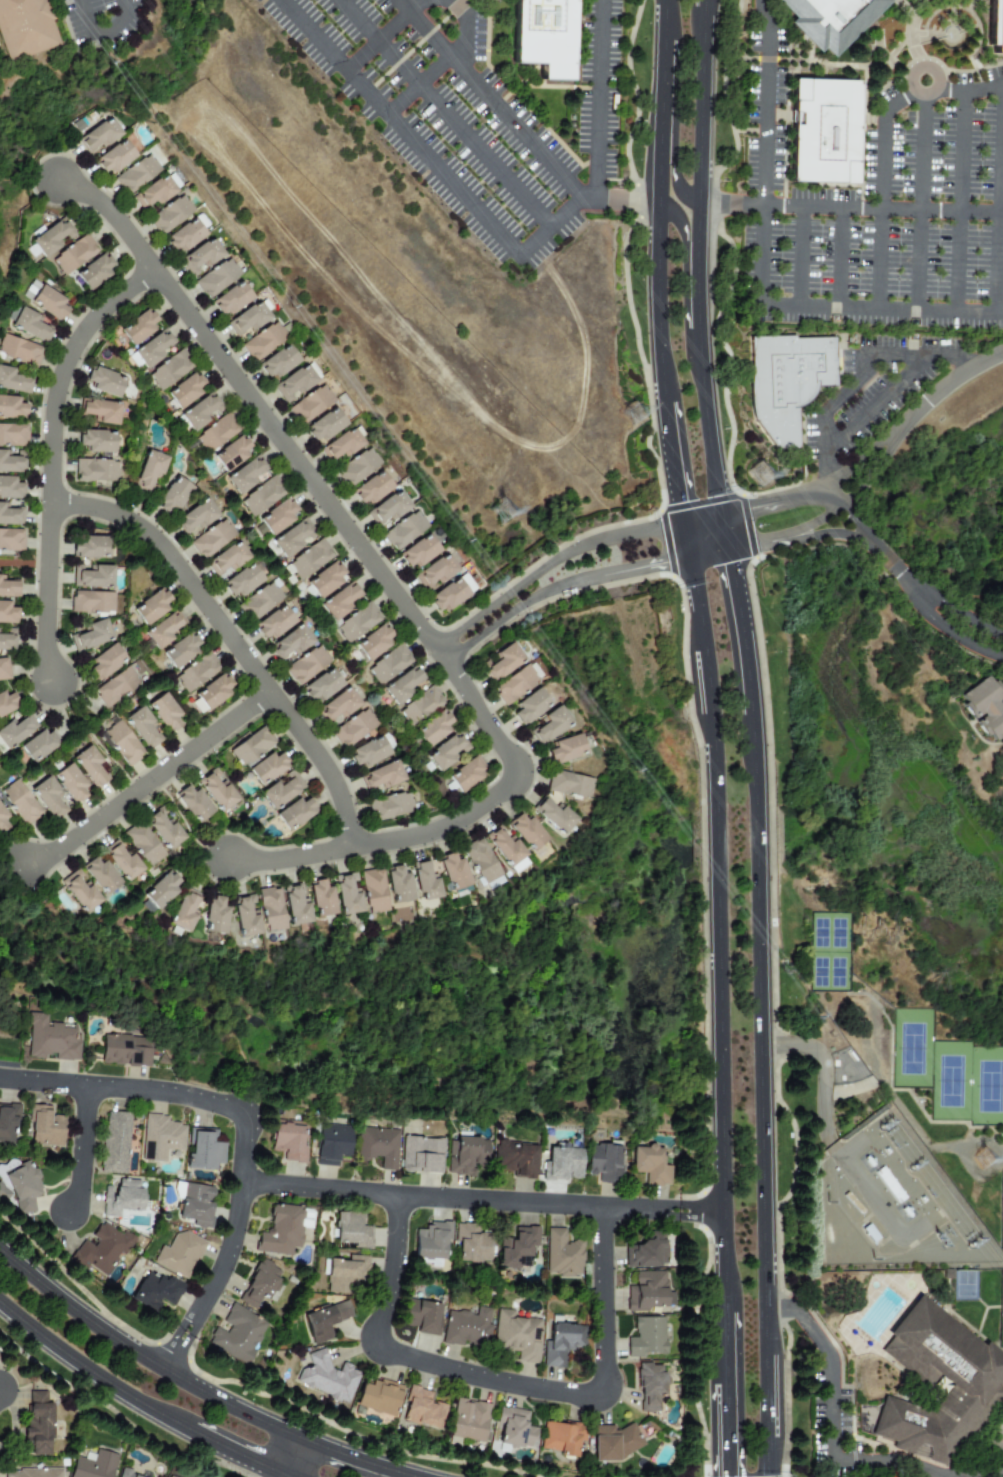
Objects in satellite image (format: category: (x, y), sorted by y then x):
road: (658, 19)
building: (835, 19)
building: (25, 26)
building: (999, 27)
road: (105, 32)
road: (385, 35)
building: (541, 35)
road: (417, 46)
road: (444, 62)
road: (916, 62)
road: (656, 82)
road: (518, 87)
road: (971, 88)
road: (559, 89)
road: (490, 99)
road: (599, 99)
road: (520, 100)
road: (447, 113)
building: (829, 130)
building: (99, 135)
road: (879, 145)
road: (960, 150)
building: (115, 157)
road: (429, 160)
road: (676, 169)
building: (136, 174)
building: (154, 192)
road: (996, 199)
road: (615, 201)
road: (917, 205)
road: (823, 208)
road: (948, 211)
road: (980, 211)
building: (170, 214)
road: (113, 228)
building: (187, 233)
building: (52, 237)
road: (679, 239)
building: (74, 255)
building: (201, 257)
road: (799, 257)
road: (699, 258)
road: (841, 258)
road: (884, 259)
road: (954, 260)
road: (654, 264)
building: (94, 272)
road: (757, 275)
building: (217, 278)
building: (31, 290)
building: (231, 299)
building: (49, 303)
building: (250, 318)
building: (30, 325)
building: (138, 328)
building: (263, 341)
building: (152, 348)
building: (19, 351)
building: (278, 362)
building: (169, 370)
road: (70, 371)
road: (858, 378)
building: (13, 381)
building: (104, 381)
building: (296, 382)
building: (793, 387)
building: (185, 390)
building: (310, 404)
road: (877, 404)
building: (12, 408)
building: (101, 411)
building: (201, 411)
power tower: (638, 415)
road: (911, 417)
building: (326, 425)
building: (216, 433)
building: (12, 435)
building: (97, 441)
building: (342, 444)
building: (232, 453)
building: (10, 463)
road: (671, 465)
building: (357, 467)
building: (96, 470)
building: (149, 471)
building: (245, 475)
power tower: (764, 475)
building: (10, 488)
building: (372, 488)
building: (173, 496)
building: (262, 496)
traffic signals: (677, 497)
road: (777, 501)
traffic signals: (757, 507)
building: (387, 509)
building: (11, 515)
power tower: (506, 515)
building: (196, 517)
building: (279, 517)
road: (818, 520)
road: (702, 521)
building: (404, 531)
road: (723, 533)
road: (801, 535)
building: (294, 537)
road: (868, 537)
building: (11, 539)
building: (212, 539)
road: (687, 542)
building: (90, 547)
building: (419, 551)
road: (708, 554)
building: (227, 559)
building: (309, 560)
road: (23, 562)
traffic signals: (730, 563)
traffic signals: (651, 565)
building: (435, 573)
building: (92, 576)
building: (244, 580)
building: (326, 580)
building: (9, 588)
road: (45, 593)
building: (451, 593)
road: (389, 594)
building: (340, 601)
building: (91, 602)
building: (259, 602)
building: (151, 606)
road: (948, 607)
building: (7, 613)
building: (357, 622)
building: (274, 623)
road: (940, 626)
building: (163, 630)
road: (740, 630)
building: (90, 636)
road: (227, 638)
building: (7, 639)
building: (290, 643)
building: (373, 643)
building: (180, 650)
road: (439, 654)
building: (106, 661)
building: (503, 662)
building: (388, 664)
building: (306, 665)
building: (3, 670)
building: (196, 672)
building: (322, 685)
building: (402, 685)
building: (514, 685)
building: (116, 687)
building: (211, 693)
building: (7, 703)
building: (419, 706)
building: (530, 706)
building: (338, 707)
building: (988, 707)
building: (165, 712)
building: (550, 725)
building: (143, 728)
building: (353, 728)
building: (433, 728)
building: (15, 731)
building: (39, 744)
building: (123, 744)
building: (251, 747)
building: (566, 749)
building: (371, 751)
building: (446, 752)
building: (90, 767)
building: (267, 768)
building: (466, 774)
building: (381, 777)
road: (148, 780)
building: (70, 783)
building: (569, 784)
building: (217, 790)
building: (282, 790)
building: (49, 799)
building: (21, 804)
building: (194, 804)
building: (389, 806)
building: (294, 813)
building: (553, 816)
building: (3, 822)
building: (163, 828)
building: (526, 832)
building: (142, 843)
road: (296, 849)
building: (506, 849)
building: (480, 860)
building: (121, 861)
building: (453, 871)
building: (100, 875)
building: (425, 880)
building: (398, 885)
building: (78, 890)
building: (373, 890)
building: (158, 892)
building: (347, 894)
building: (321, 898)
building: (295, 905)
building: (270, 909)
building: (183, 910)
building: (245, 915)
building: (214, 916)
road: (717, 934)
park: (828, 951)
building: (51, 1039)
park: (910, 1048)
building: (124, 1050)
park: (949, 1079)
road: (43, 1082)
park: (986, 1085)
road: (850, 1091)
road: (170, 1093)
road: (759, 1093)
building: (7, 1122)
power tower: (888, 1125)
building: (45, 1127)
building: (160, 1137)
building: (288, 1140)
road: (829, 1140)
building: (113, 1142)
building: (332, 1143)
building: (377, 1146)
road: (81, 1149)
building: (203, 1150)
building: (421, 1155)
building: (464, 1155)
building: (515, 1158)
power tower: (984, 1160)
building: (602, 1161)
building: (561, 1164)
building: (649, 1165)
power tower: (920, 1165)
building: (6, 1186)
building: (22, 1187)
building: (121, 1197)
road: (480, 1201)
building: (194, 1203)
power substation: (894, 1206)
park: (999, 1207)
building: (281, 1230)
building: (351, 1230)
building: (431, 1240)
power tower: (941, 1240)
power tower: (976, 1243)
building: (470, 1244)
building: (516, 1248)
building: (100, 1250)
road: (228, 1250)
building: (646, 1252)
building: (178, 1253)
building: (562, 1254)
building: (343, 1272)
building: (259, 1283)
building: (648, 1290)
building: (155, 1291)
park: (1000, 1307)
building: (421, 1316)
building: (323, 1320)
building: (467, 1327)
building: (237, 1334)
building: (516, 1335)
building: (646, 1337)
building: (561, 1342)
road: (725, 1348)
road: (142, 1357)
road: (89, 1371)
building: (976, 1376)
building: (326, 1377)
road: (504, 1383)
building: (650, 1386)
building: (378, 1397)
building: (421, 1409)
building: (468, 1420)
road: (832, 1420)
building: (38, 1423)
building: (514, 1428)
road: (726, 1430)
building: (561, 1437)
building: (614, 1441)
road: (235, 1452)
road: (292, 1457)
road: (349, 1457)
building: (93, 1464)
building: (32, 1473)
traffic signals: (727, 1473)
building: (127, 1474)
road: (405, 1475)
road: (283, 1476)
road: (285, 1476)
road: (971, 1476)

